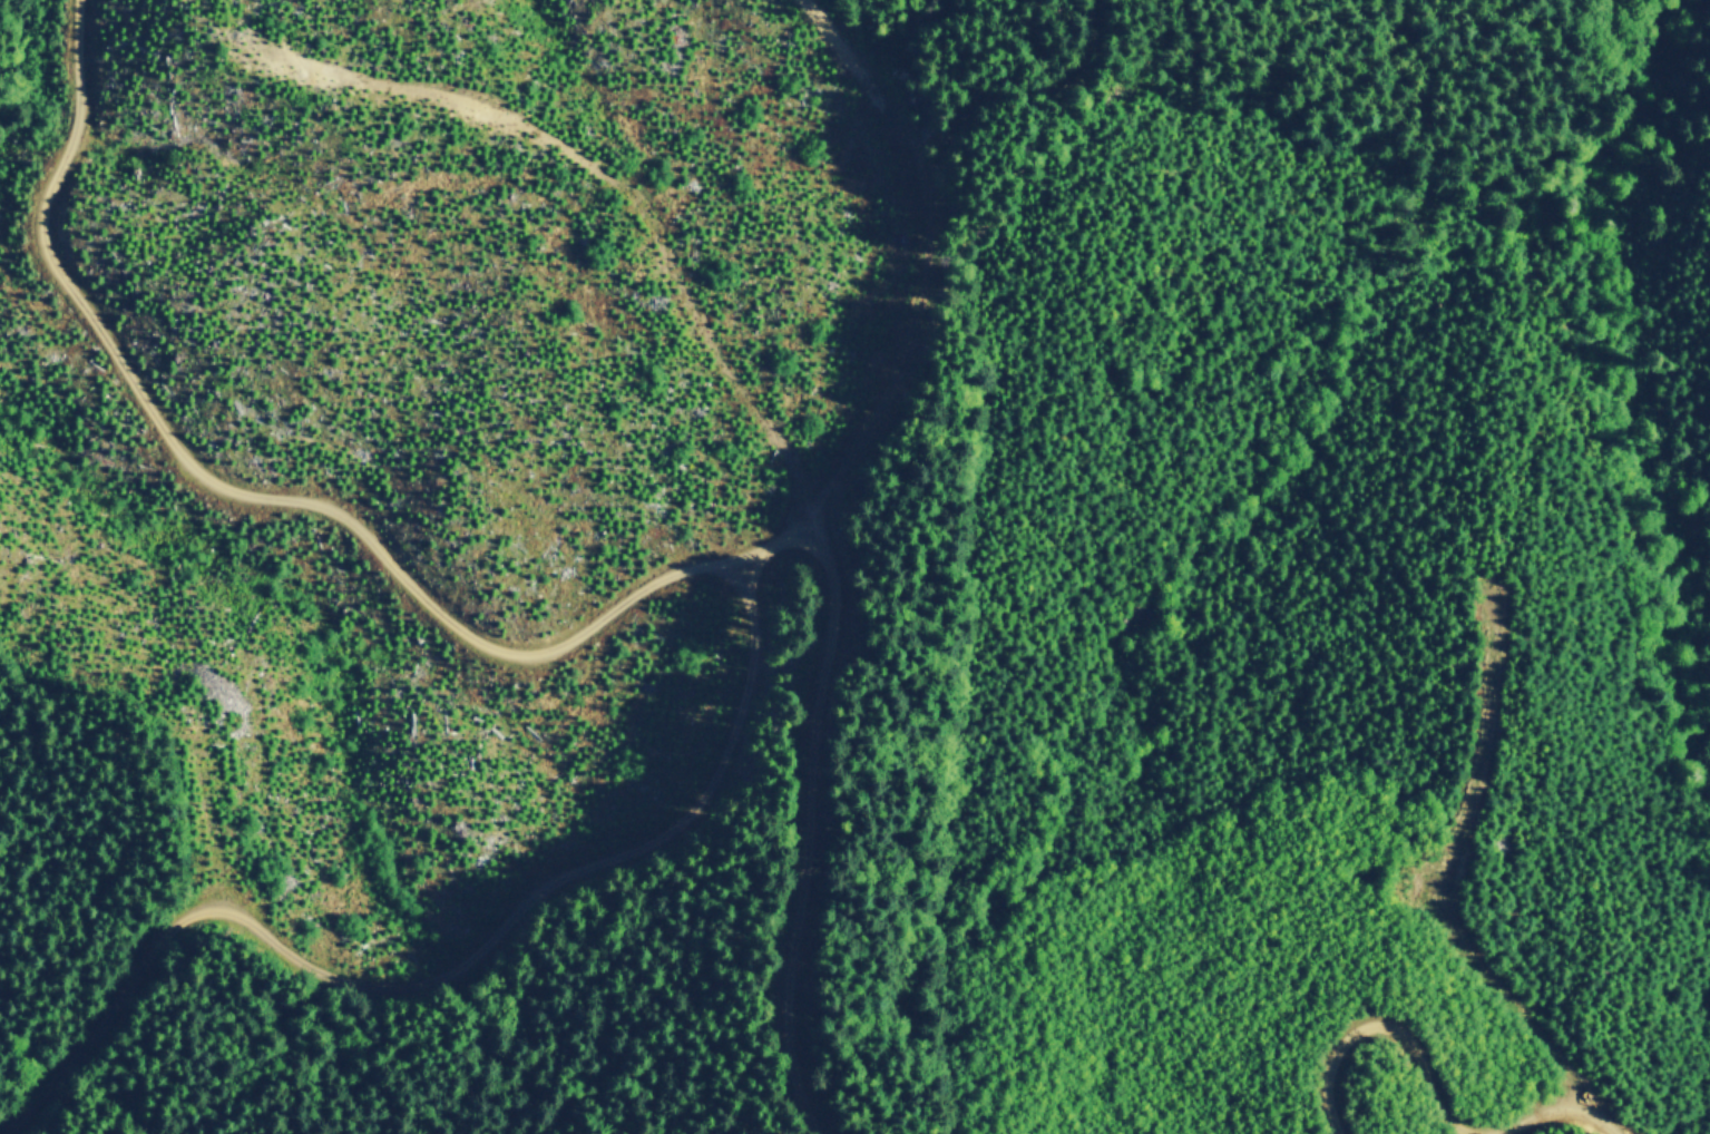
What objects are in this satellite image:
road: (751, 579)
road: (1609, 1085)

